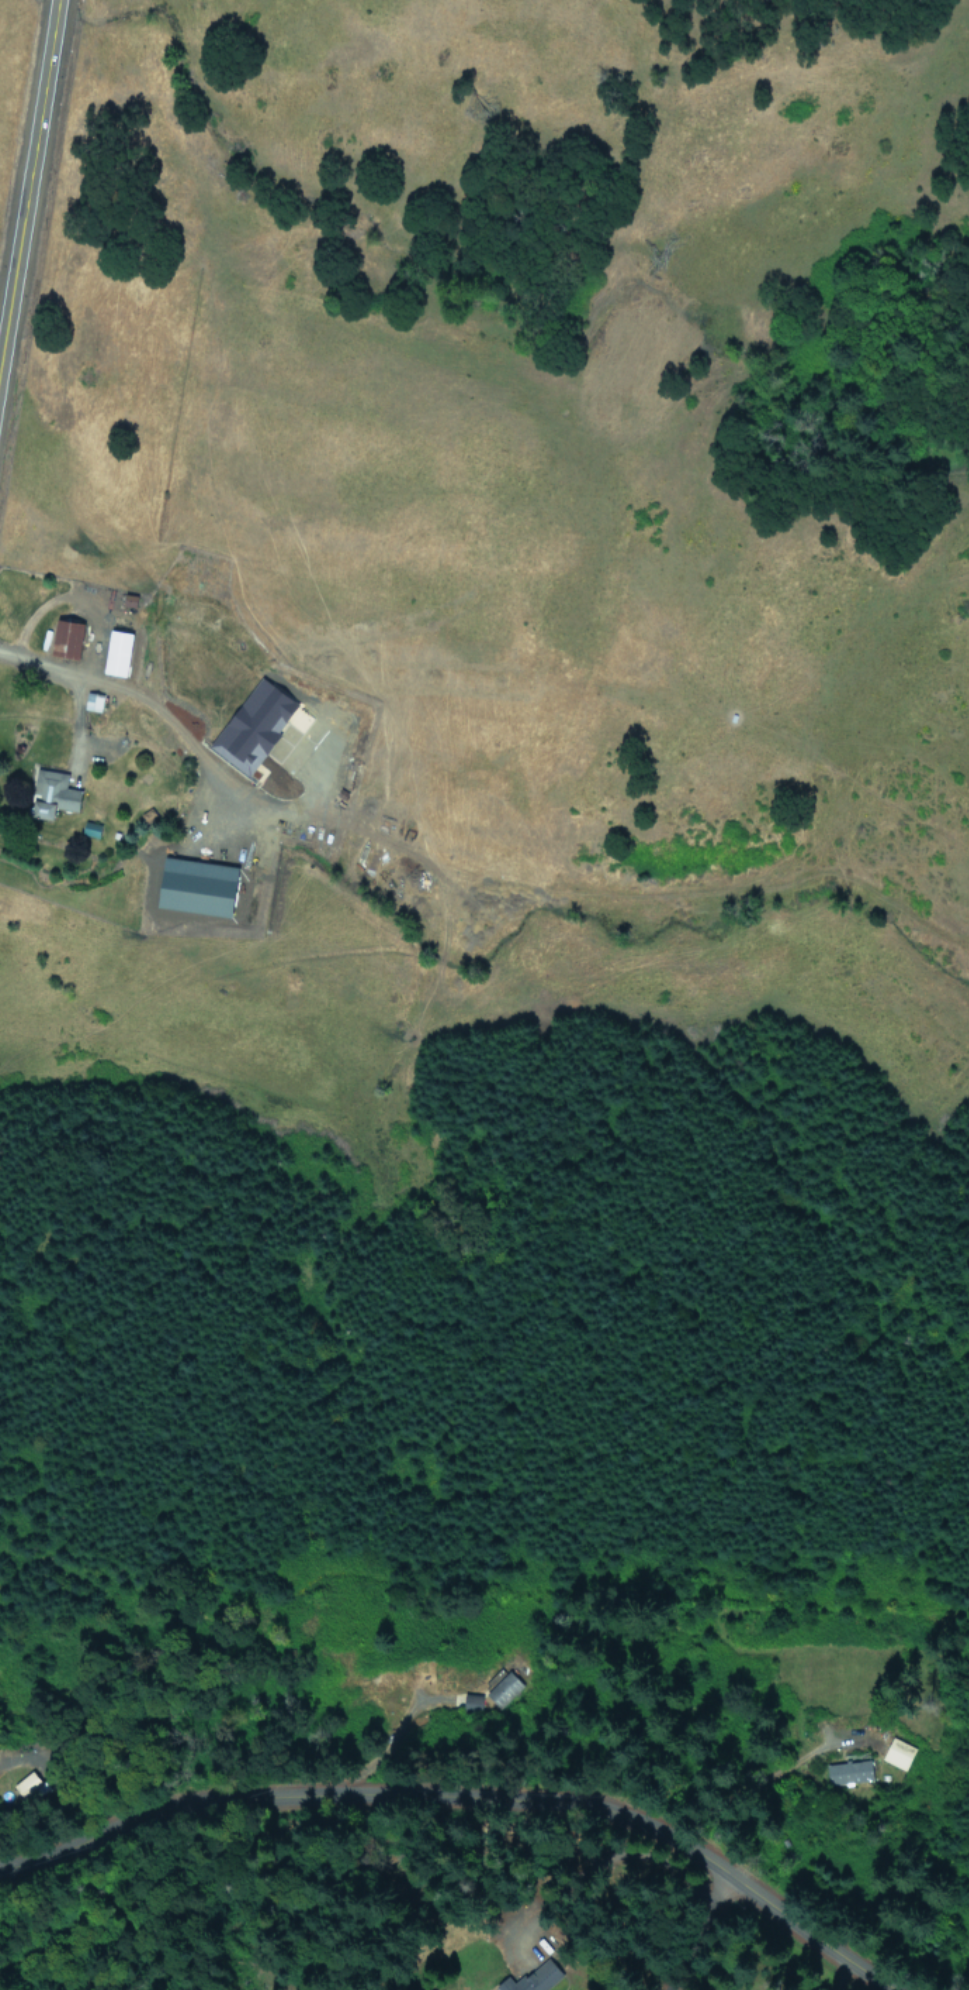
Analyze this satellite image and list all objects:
crop: (3, 19)
road: (29, 172)
road: (74, 599)
building: (68, 638)
building: (118, 652)
road: (142, 700)
building: (93, 701)
building: (255, 725)
building: (53, 793)
building: (91, 828)
building: (199, 886)
road: (32, 1193)
building: (503, 1689)
building: (472, 1702)
building: (897, 1754)
road: (18, 1759)
building: (847, 1773)
road: (483, 1776)
building: (25, 1783)
road: (508, 1883)
building: (531, 1979)

